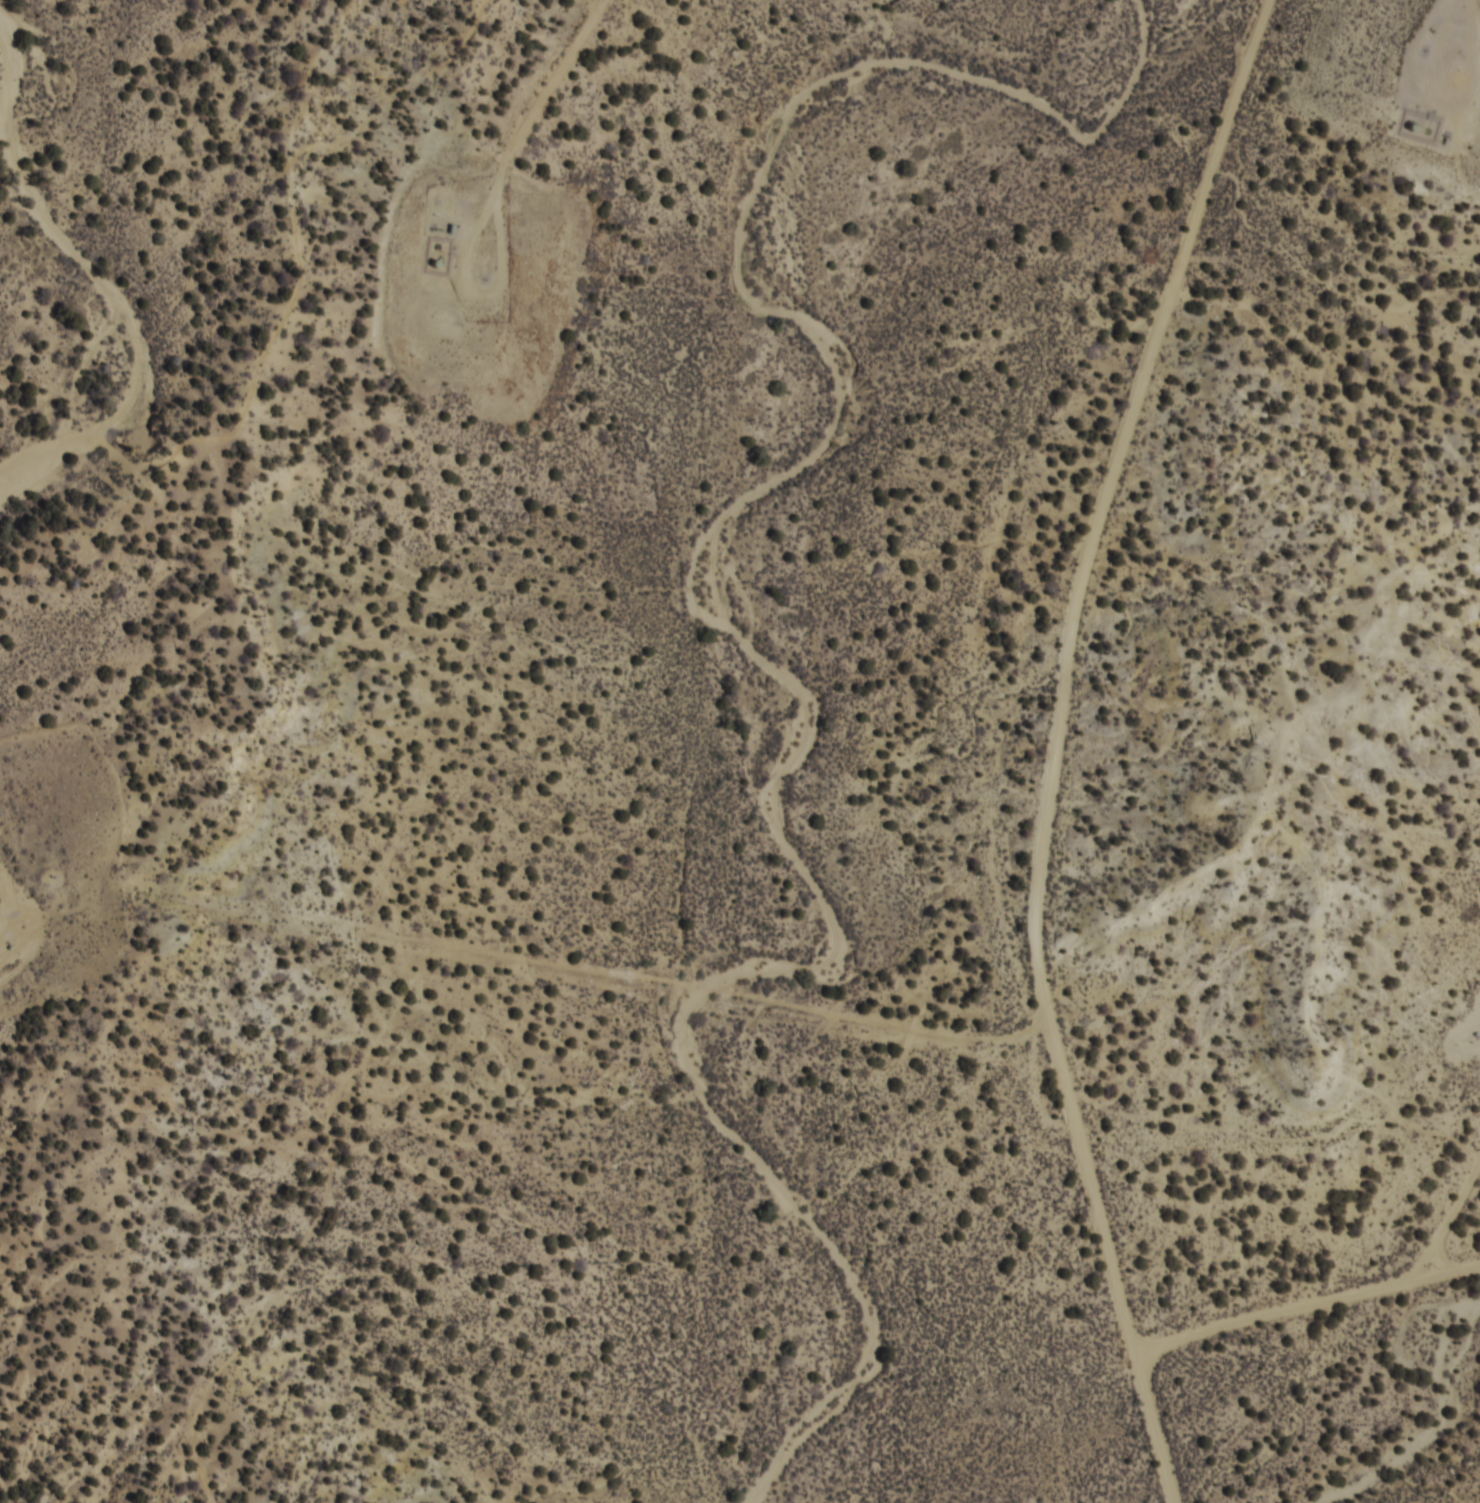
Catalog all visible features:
river: (102, 306)
river: (720, 616)
road: (683, 748)
road: (1073, 844)
road: (1419, 1158)
road: (1127, 1422)

